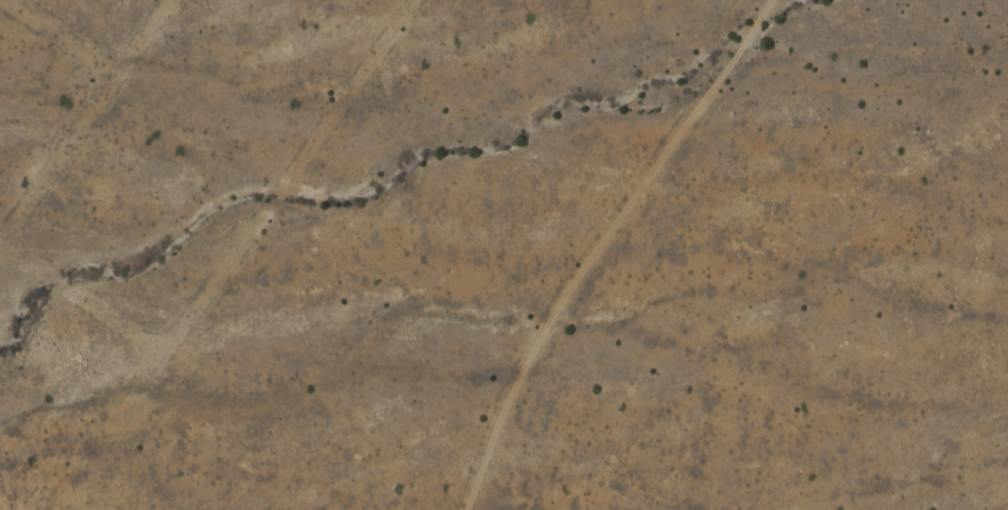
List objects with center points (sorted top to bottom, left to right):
road: (1001, 502)

